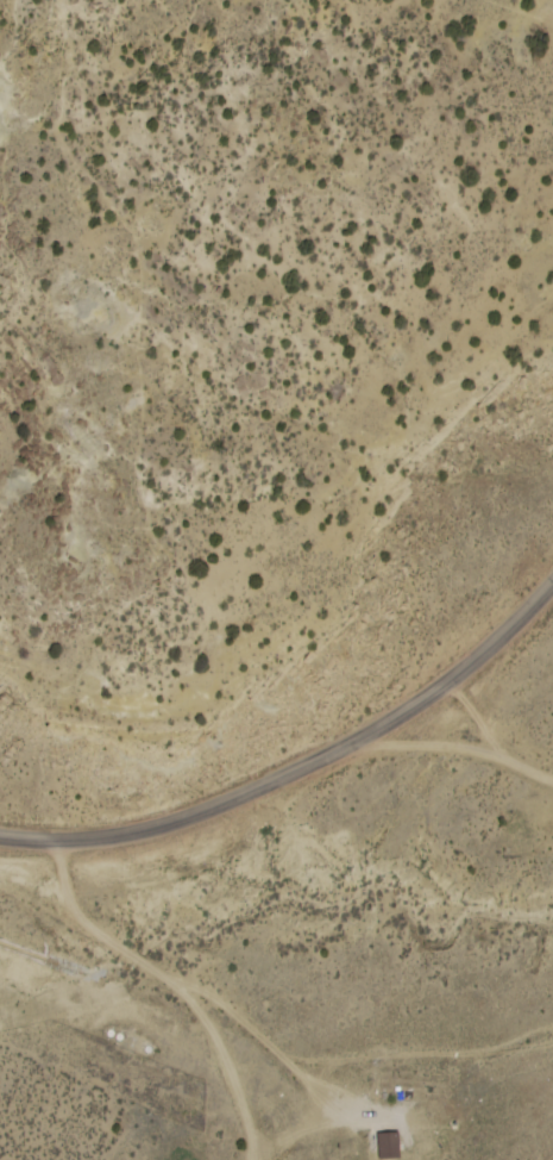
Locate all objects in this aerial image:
road: (302, 768)
building: (389, 1147)

